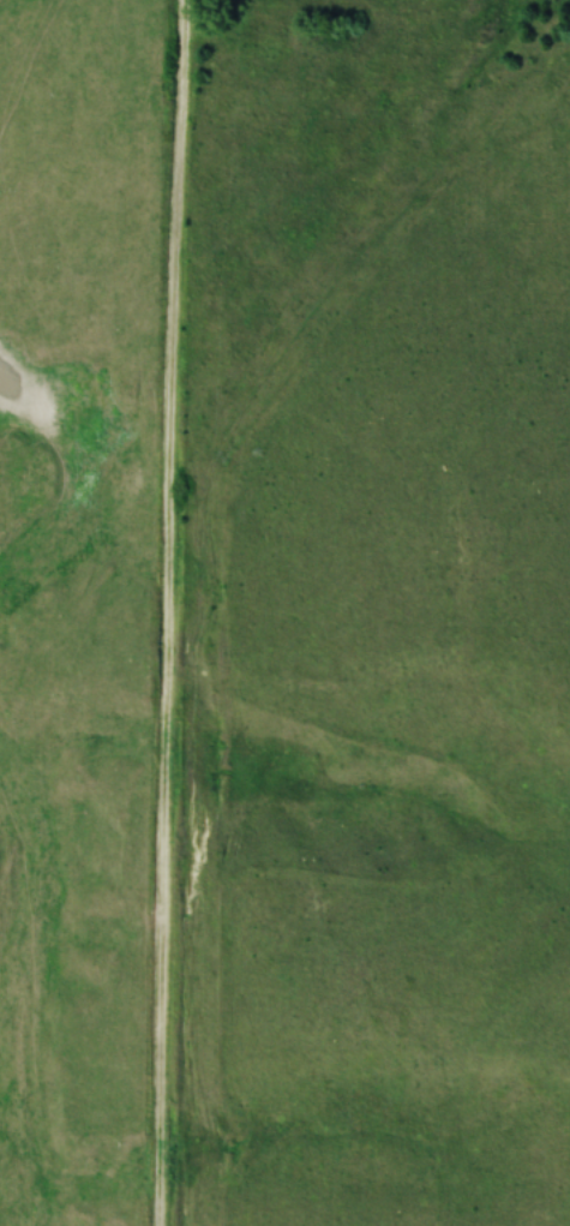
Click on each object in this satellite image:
road: (168, 612)

